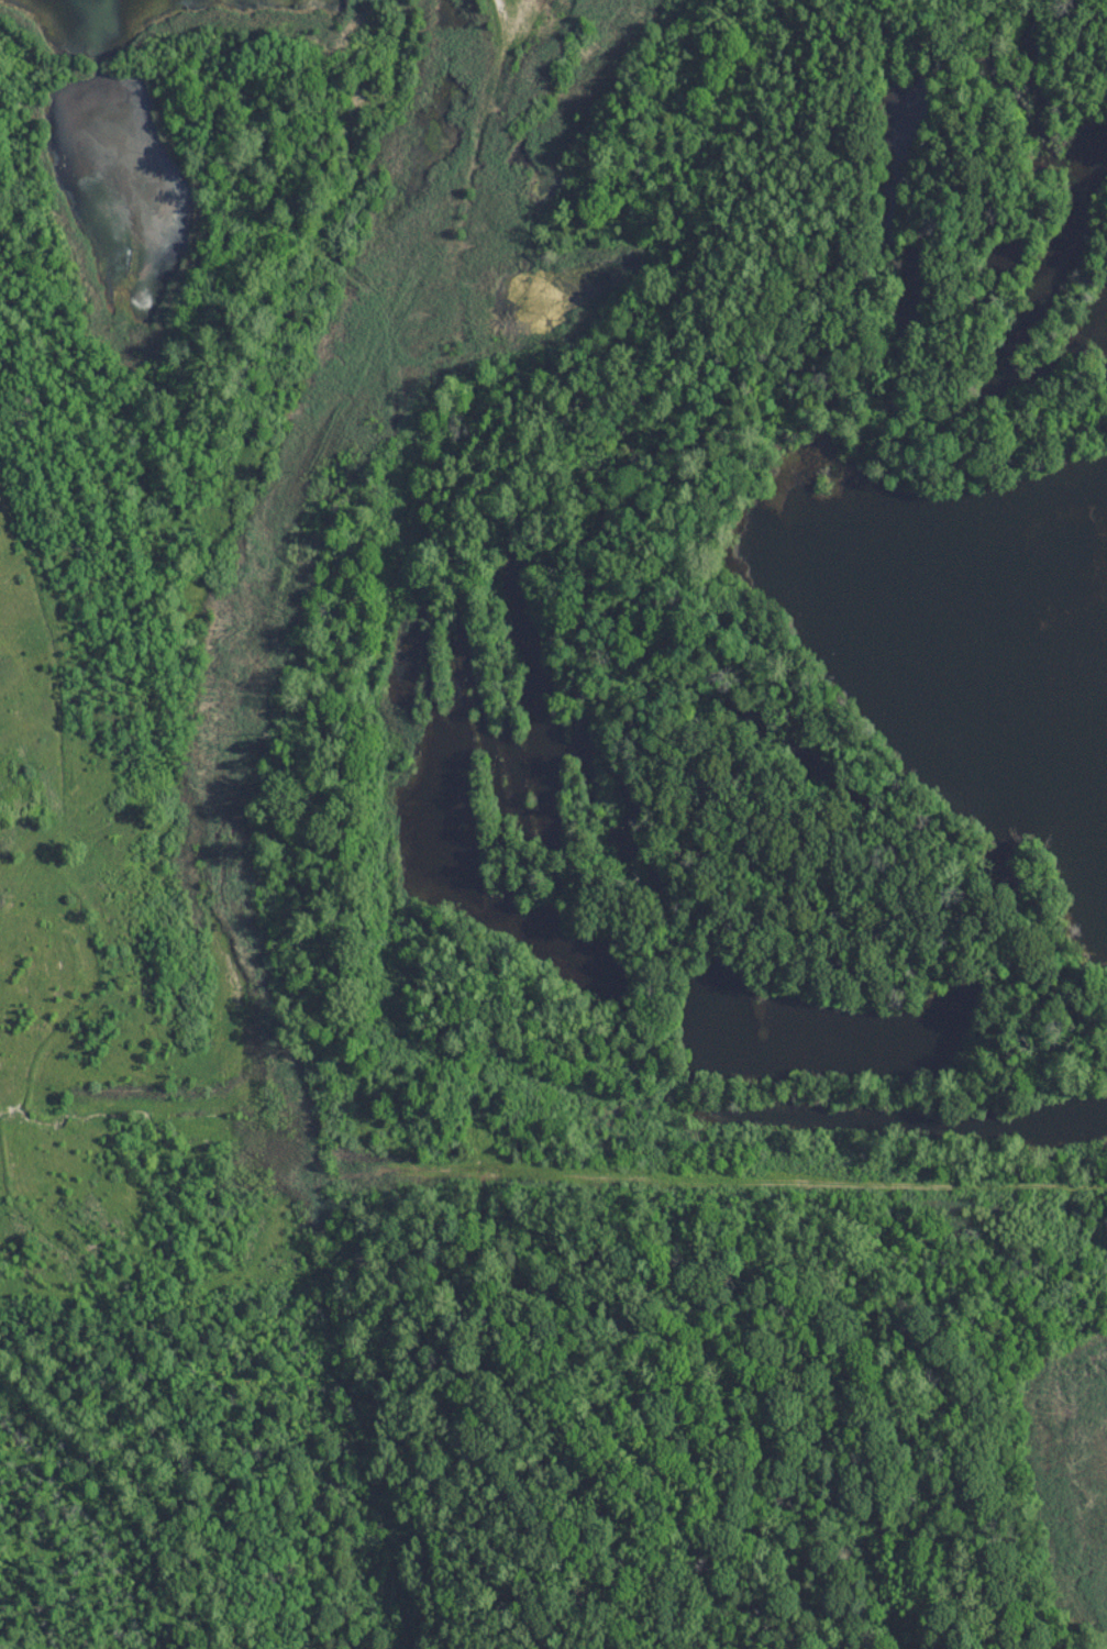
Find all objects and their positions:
road: (552, 1187)

